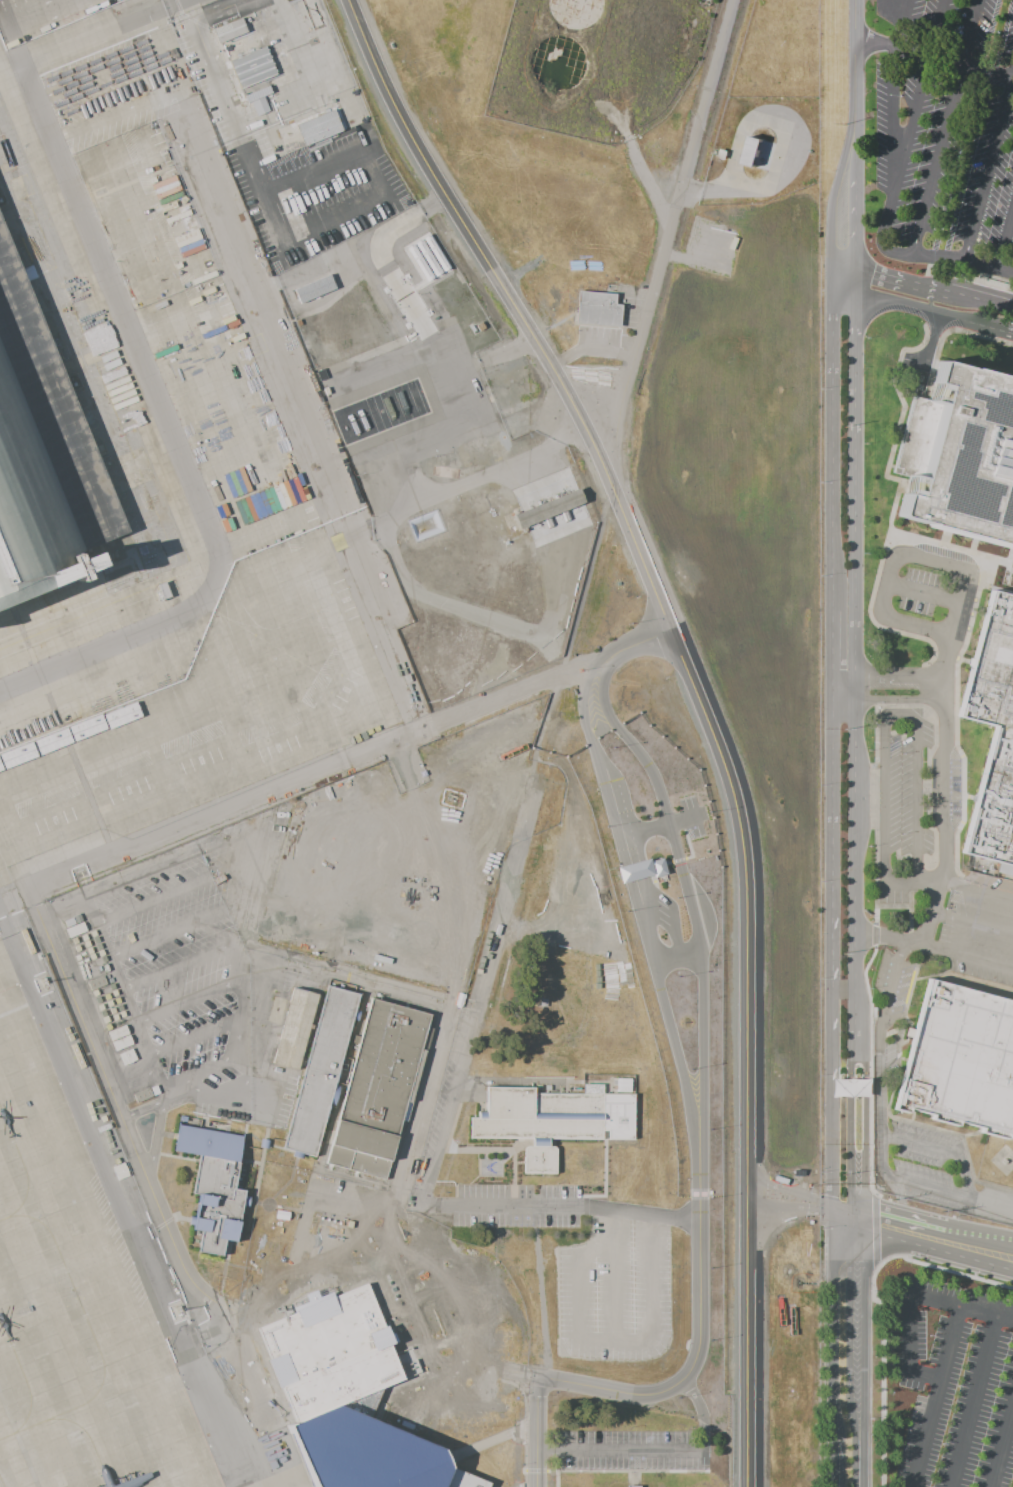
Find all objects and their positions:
building: (2, 0)
road: (888, 1)
road: (905, 5)
parking lot: (179, 6)
road: (22, 8)
road: (938, 9)
road: (976, 15)
parking lot: (40, 16)
road: (930, 17)
road: (897, 28)
building: (227, 30)
road: (935, 57)
road: (857, 59)
building: (251, 67)
building: (255, 94)
road: (891, 99)
building: (258, 106)
road: (918, 106)
building: (317, 127)
parking lot: (950, 135)
road: (857, 149)
building: (747, 156)
road: (936, 159)
road: (987, 167)
parking lot: (292, 170)
road: (436, 181)
road: (683, 195)
road: (891, 199)
road: (464, 201)
road: (433, 203)
road: (837, 206)
road: (465, 208)
road: (441, 210)
road: (455, 214)
road: (857, 225)
road: (1005, 239)
road: (894, 252)
road: (962, 261)
road: (846, 271)
road: (895, 278)
road: (857, 283)
building: (313, 288)
road: (845, 296)
road: (973, 298)
building: (596, 308)
road: (925, 311)
road: (1003, 331)
road: (833, 345)
road: (505, 348)
road: (592, 352)
road: (565, 359)
road: (542, 363)
road: (585, 364)
road: (857, 365)
road: (632, 366)
road: (577, 376)
road: (605, 377)
road: (568, 380)
road: (569, 381)
road: (616, 386)
road: (699, 409)
road: (695, 424)
road: (723, 428)
road: (693, 441)
building: (968, 453)
road: (693, 454)
airport hangar: (41, 456)
building: (41, 456)
road: (711, 456)
airport apron: (160, 470)
building: (153, 482)
road: (639, 496)
road: (616, 497)
road: (773, 540)
road: (661, 552)
road: (933, 561)
road: (887, 582)
road: (921, 594)
road: (956, 601)
road: (916, 625)
parking lot: (746, 628)
road: (640, 641)
road: (831, 654)
road: (725, 665)
road: (772, 665)
road: (786, 666)
road: (794, 666)
road: (802, 666)
road: (593, 668)
road: (889, 676)
building: (786, 678)
road: (793, 698)
road: (773, 699)
road: (889, 699)
road: (901, 718)
building: (121, 720)
building: (87, 732)
road: (804, 734)
road: (857, 740)
building: (994, 740)
building: (52, 746)
building: (18, 760)
building: (1, 772)
road: (308, 775)
road: (943, 790)
road: (884, 799)
road: (917, 805)
parking lot: (690, 817)
road: (663, 824)
road: (193, 846)
building: (657, 867)
building: (633, 870)
road: (631, 871)
road: (911, 882)
road: (181, 887)
road: (977, 891)
road: (61, 902)
airport: (303, 914)
road: (182, 926)
road: (972, 926)
road: (244, 936)
road: (105, 938)
road: (907, 940)
parking lot: (190, 953)
road: (676, 957)
road: (985, 960)
road: (184, 964)
building: (96, 983)
building: (42, 984)
road: (831, 987)
road: (749, 996)
road: (187, 1000)
road: (786, 1006)
building: (295, 1029)
building: (117, 1032)
road: (241, 1036)
road: (195, 1037)
building: (122, 1043)
road: (146, 1046)
building: (77, 1055)
building: (960, 1061)
road: (215, 1063)
road: (126, 1064)
building: (322, 1072)
road: (175, 1079)
road: (192, 1081)
building: (624, 1086)
road: (233, 1087)
building: (849, 1087)
road: (881, 1088)
building: (379, 1090)
building: (142, 1095)
road: (142, 1110)
road: (699, 1120)
building: (541, 1121)
building: (103, 1128)
road: (849, 1134)
road: (864, 1134)
road: (153, 1139)
road: (832, 1140)
road: (918, 1143)
building: (264, 1144)
building: (118, 1158)
road: (962, 1174)
building: (214, 1184)
road: (150, 1188)
road: (929, 1188)
road: (818, 1201)
road: (471, 1204)
road: (991, 1204)
parking lot: (515, 1205)
road: (811, 1218)
road: (841, 1223)
road: (857, 1224)
road: (904, 1231)
road: (332, 1250)
road: (979, 1250)
parking lot: (346, 1257)
road: (834, 1257)
road: (849, 1259)
road: (864, 1259)
road: (292, 1260)
road: (367, 1260)
road: (246, 1268)
road: (948, 1270)
road: (224, 1271)
road: (835, 1299)
road: (864, 1299)
airport apron: (75, 1301)
road: (849, 1304)
road: (835, 1308)
road: (864, 1308)
road: (960, 1308)
road: (909, 1332)
road: (698, 1340)
building: (237, 1346)
road: (882, 1369)
road: (925, 1374)
road: (835, 1379)
road: (849, 1382)
parking lot: (947, 1386)
road: (936, 1397)
road: (864, 1400)
building: (265, 1402)
road: (972, 1402)
road: (700, 1411)
building: (272, 1419)
road: (535, 1432)
road: (1001, 1444)
road: (618, 1449)
road: (524, 1450)
parking lot: (629, 1450)
building: (368, 1456)
road: (835, 1466)
road: (536, 1471)
road: (551, 1471)
road: (624, 1471)
road: (524, 1478)
airport apron: (290, 1479)
building: (633, 1486)

